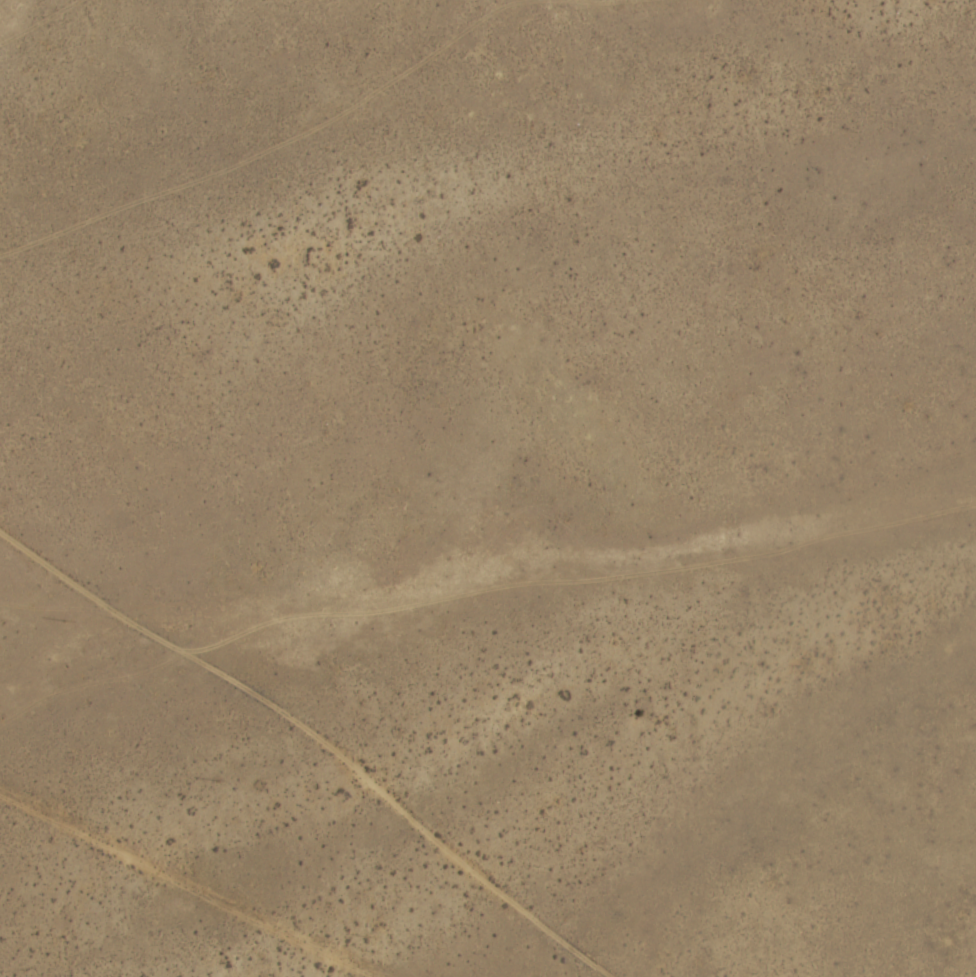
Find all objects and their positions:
road: (296, 763)

